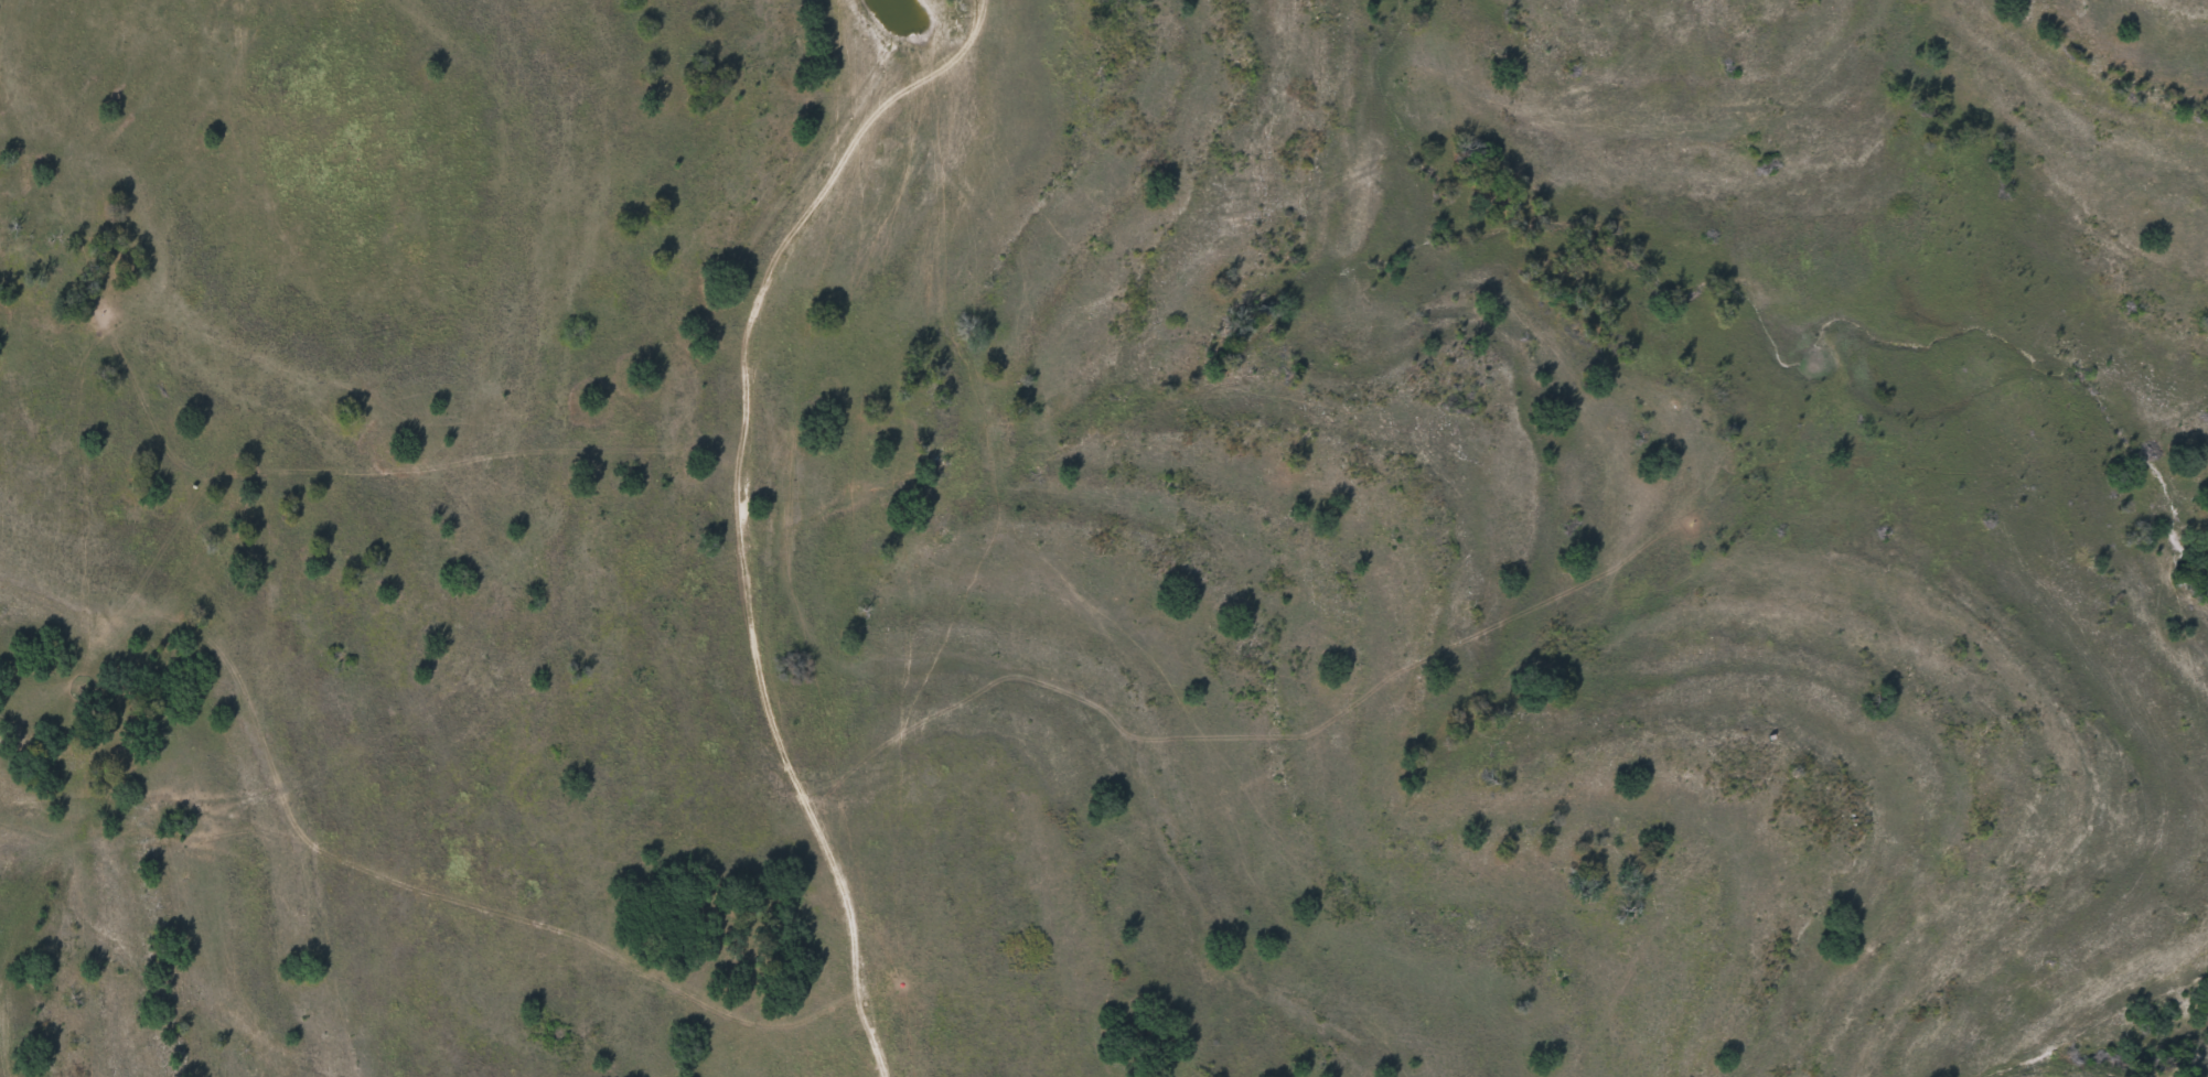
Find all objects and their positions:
road: (11, 848)

